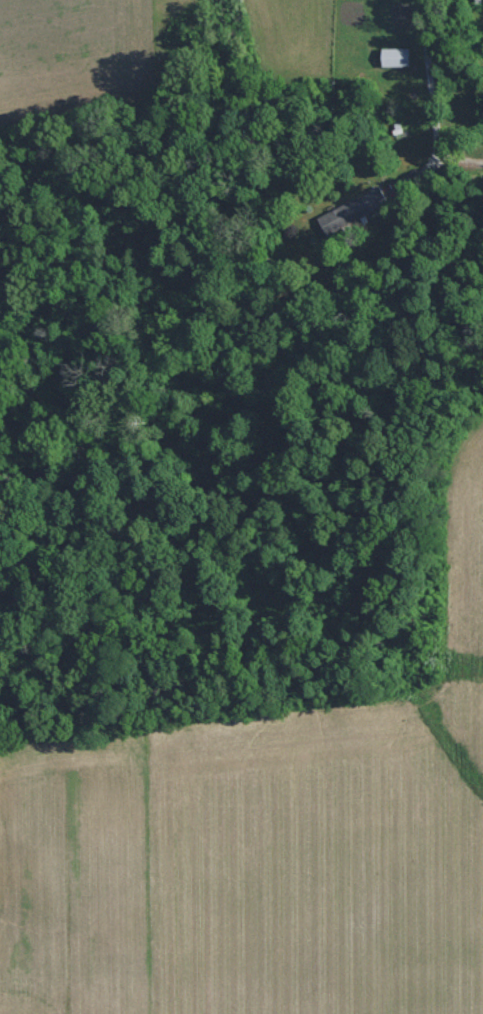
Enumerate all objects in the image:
building: (396, 57)
road: (430, 97)
building: (352, 210)

